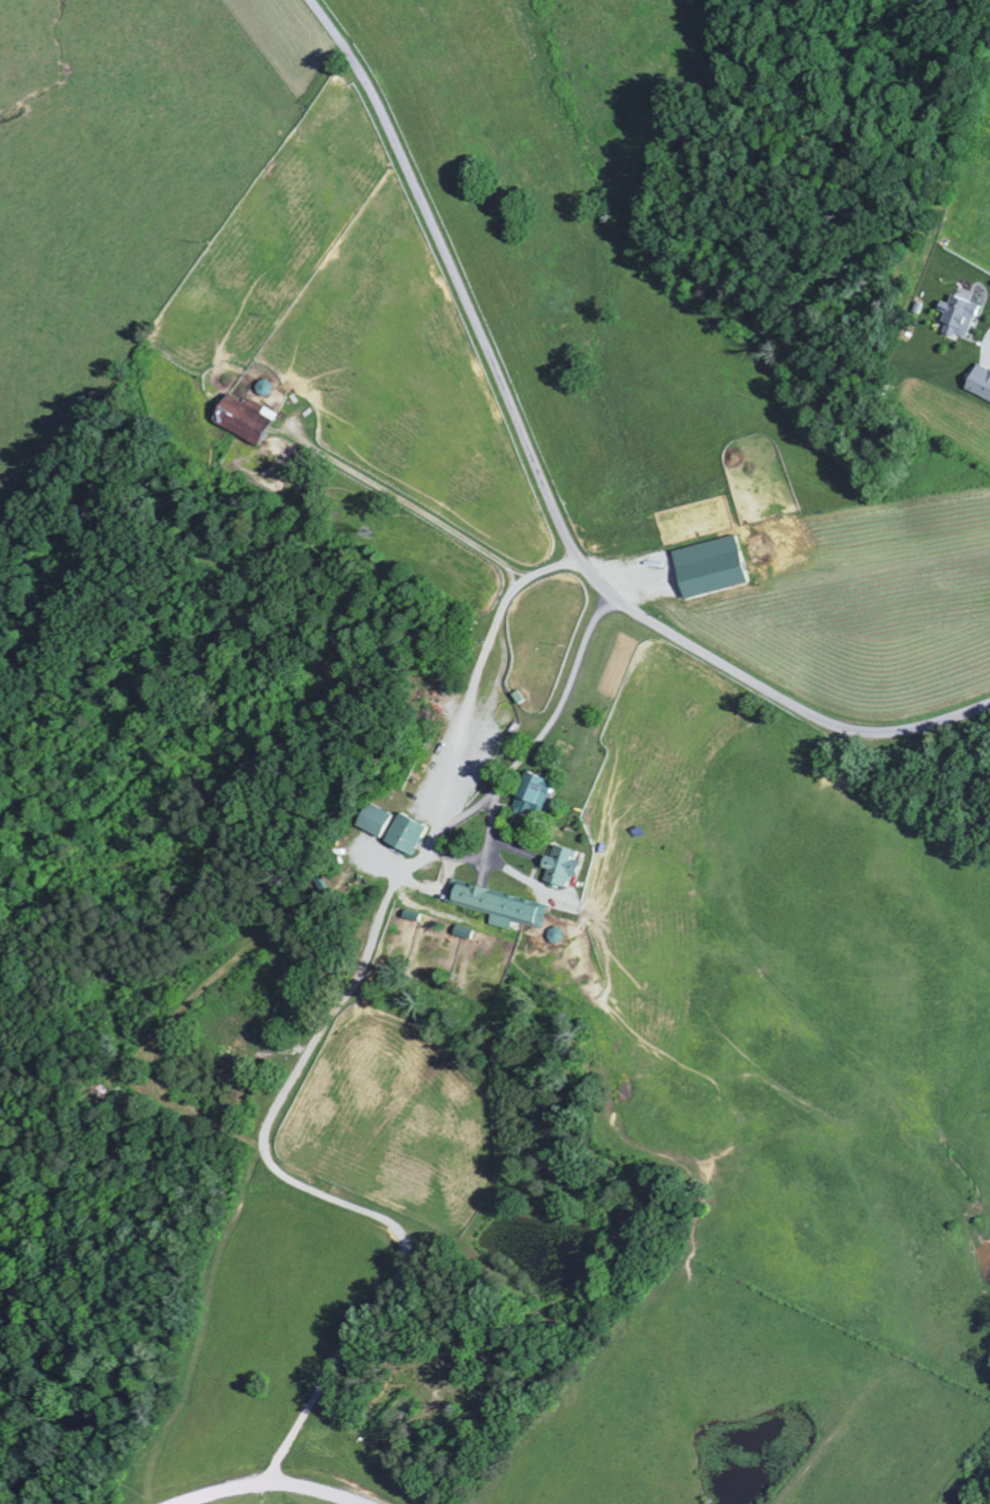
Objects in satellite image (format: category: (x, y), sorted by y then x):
building: (982, 381)
building: (254, 420)
road: (548, 489)
building: (719, 565)
building: (540, 792)
building: (385, 819)
building: (415, 832)
building: (570, 864)
building: (501, 905)
building: (465, 931)

